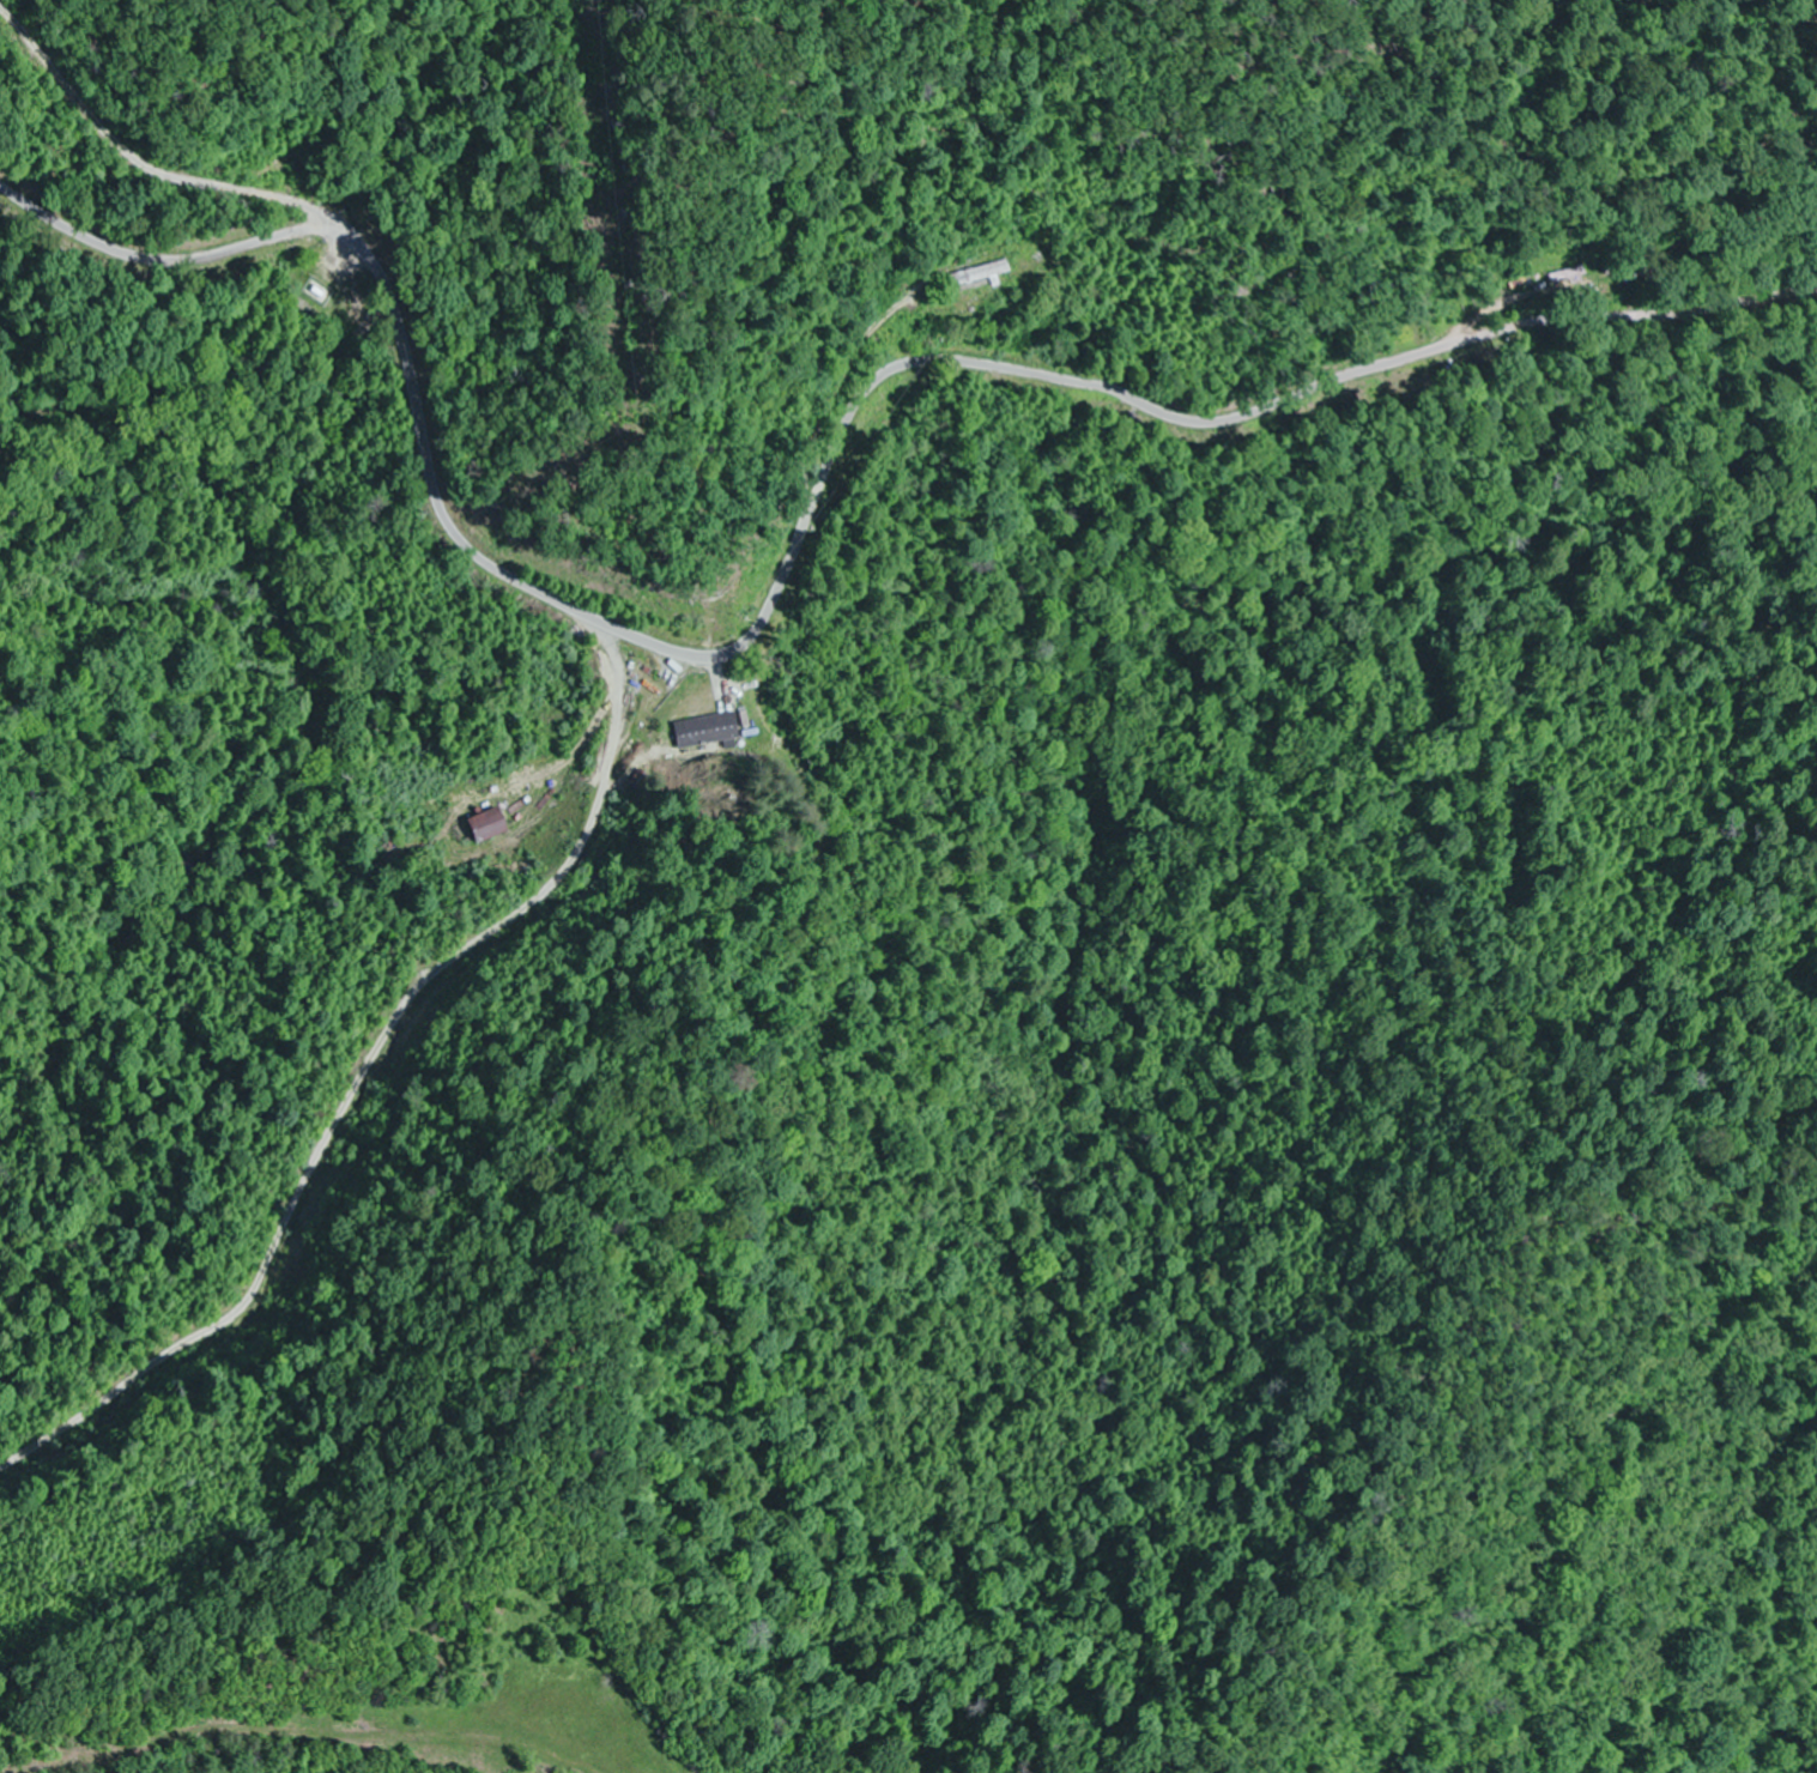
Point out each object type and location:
building: (982, 274)
building: (1564, 280)
road: (1646, 331)
road: (699, 655)
building: (707, 731)
building: (490, 825)
road: (77, 1747)

